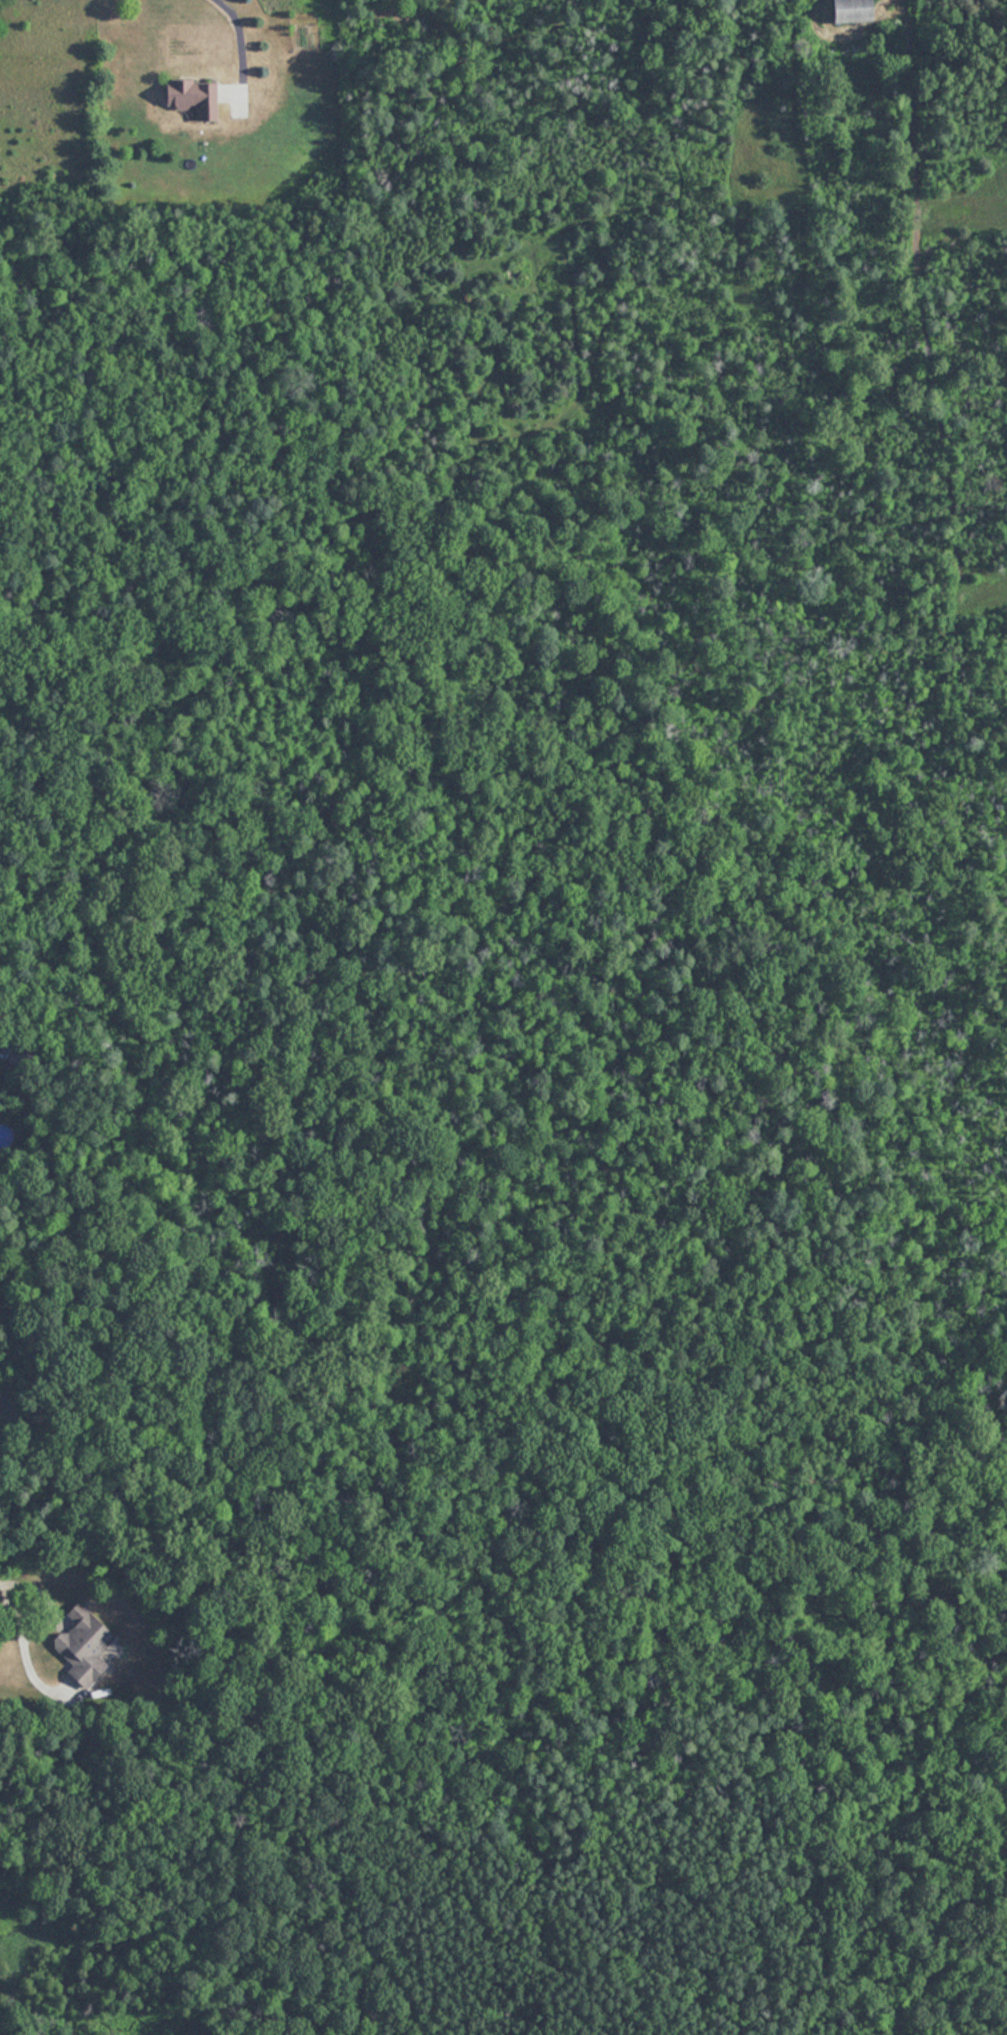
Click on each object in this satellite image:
building: (837, 10)
road: (242, 38)
building: (186, 97)
building: (84, 1638)
park: (508, 1868)

